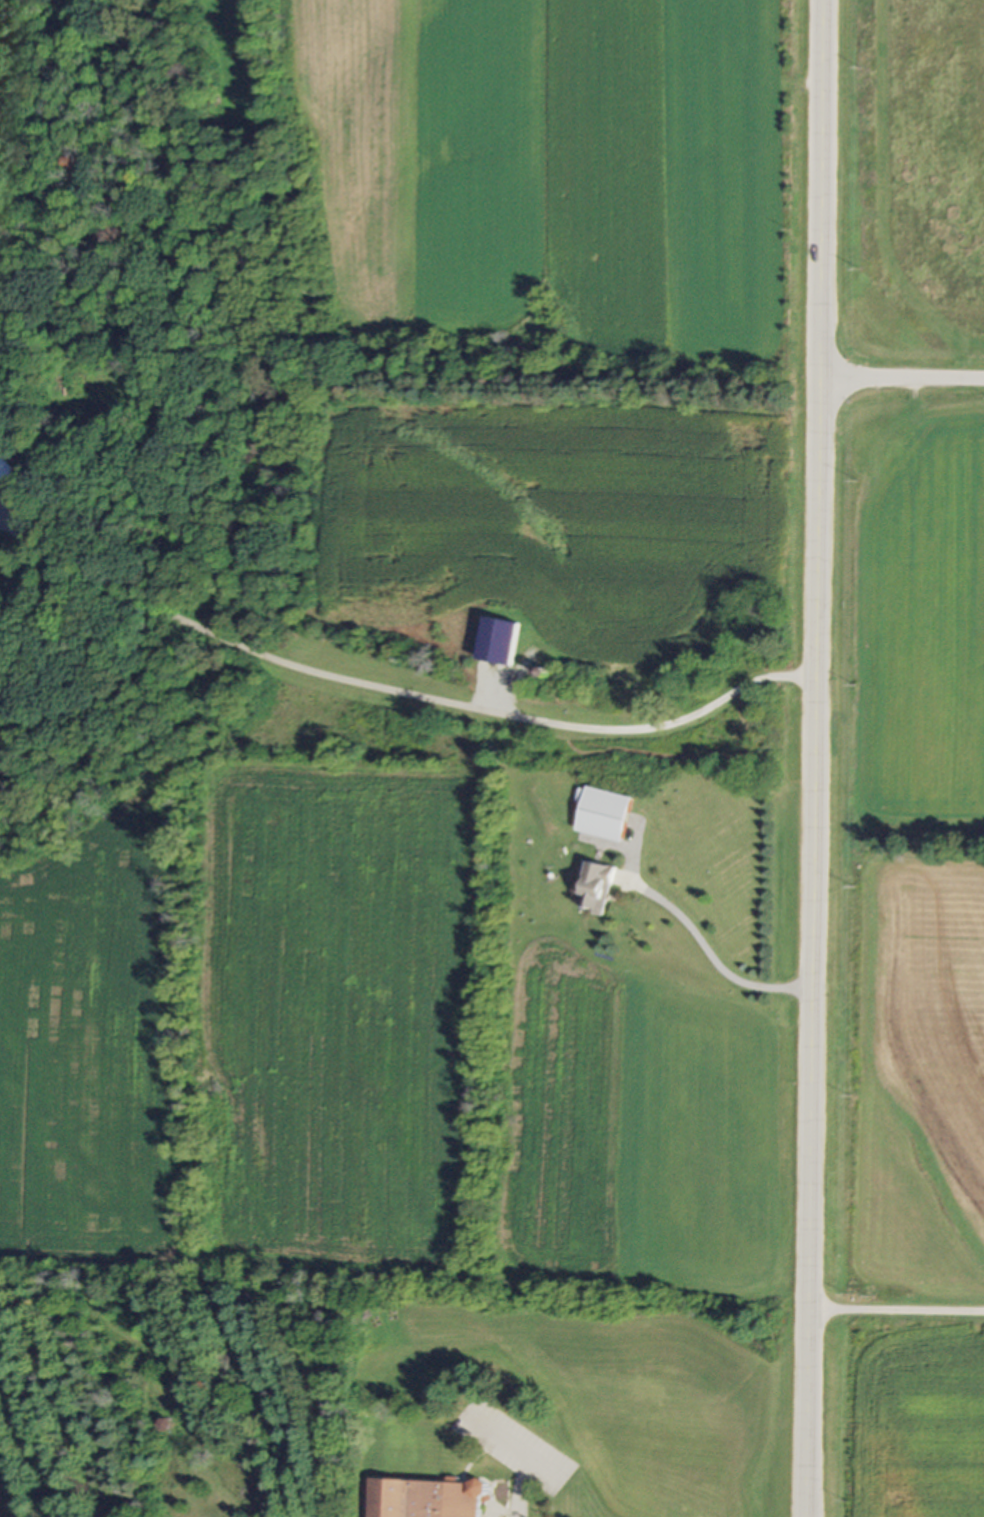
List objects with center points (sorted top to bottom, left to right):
road: (902, 380)
building: (7, 470)
road: (29, 504)
road: (20, 535)
road: (423, 695)
road: (818, 758)
building: (604, 814)
building: (593, 888)
road: (713, 958)
road: (898, 1311)
parking lot: (513, 1445)
road: (522, 1488)
building: (423, 1500)

